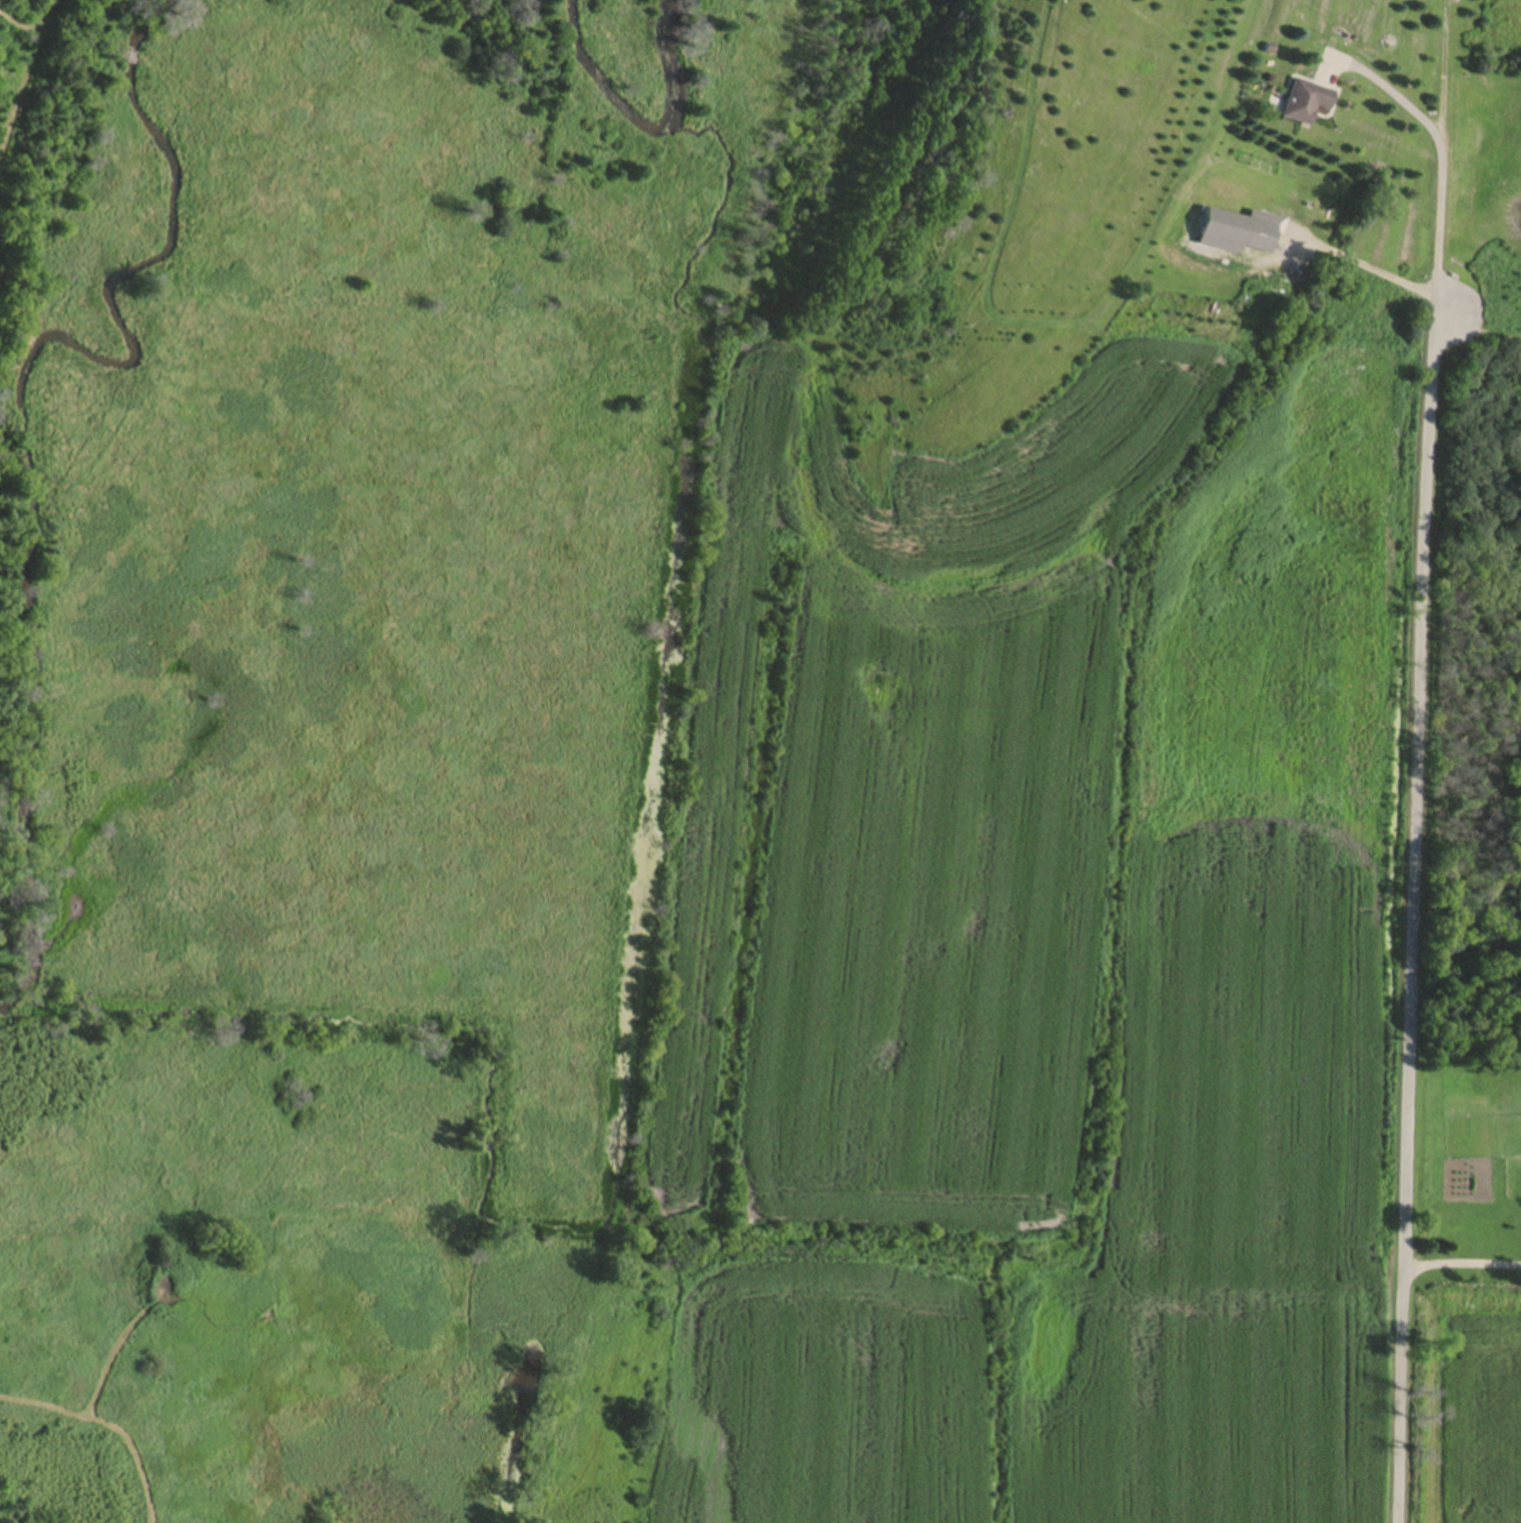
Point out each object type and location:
road: (1439, 66)
road: (1385, 88)
building: (1306, 102)
road: (1434, 218)
road: (1366, 262)
road: (1417, 913)
road: (1464, 1261)

